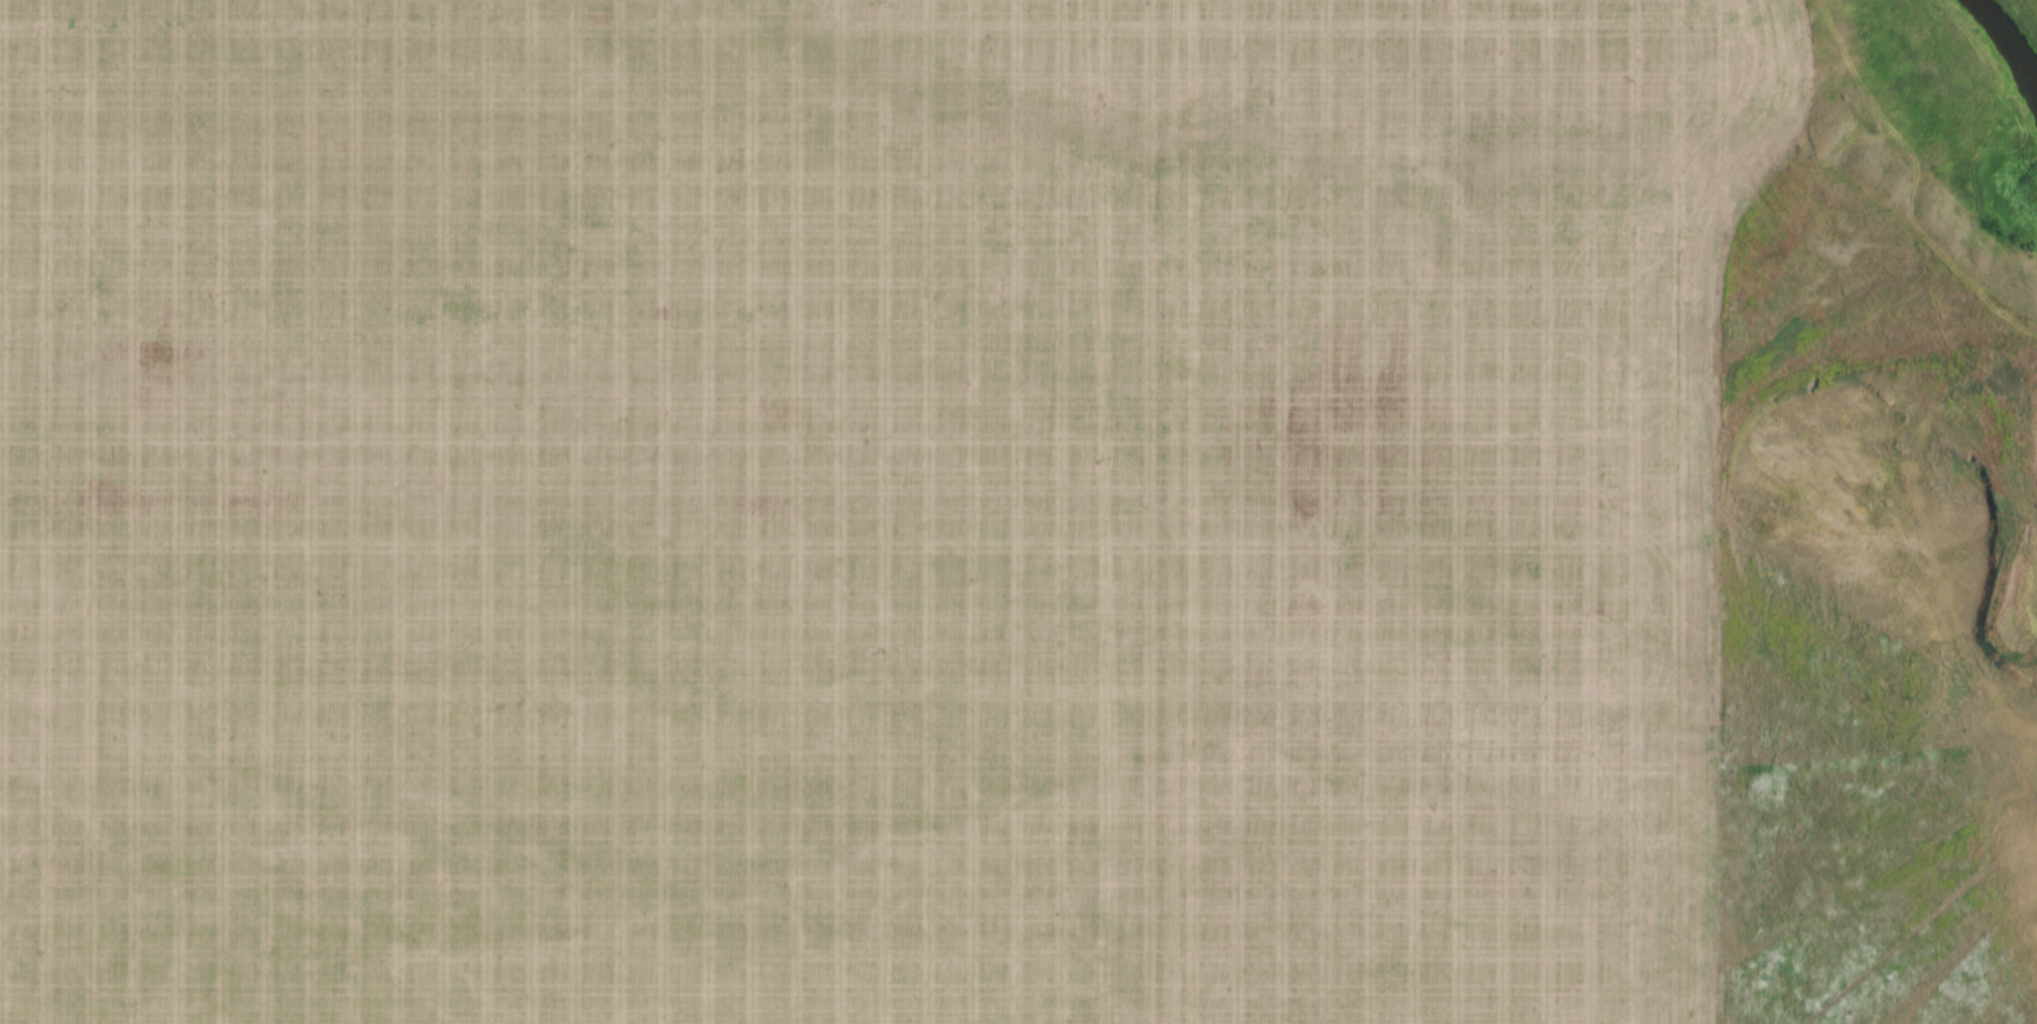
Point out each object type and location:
road: (1186, 512)
quarry: (1866, 615)
road: (1611, 745)

